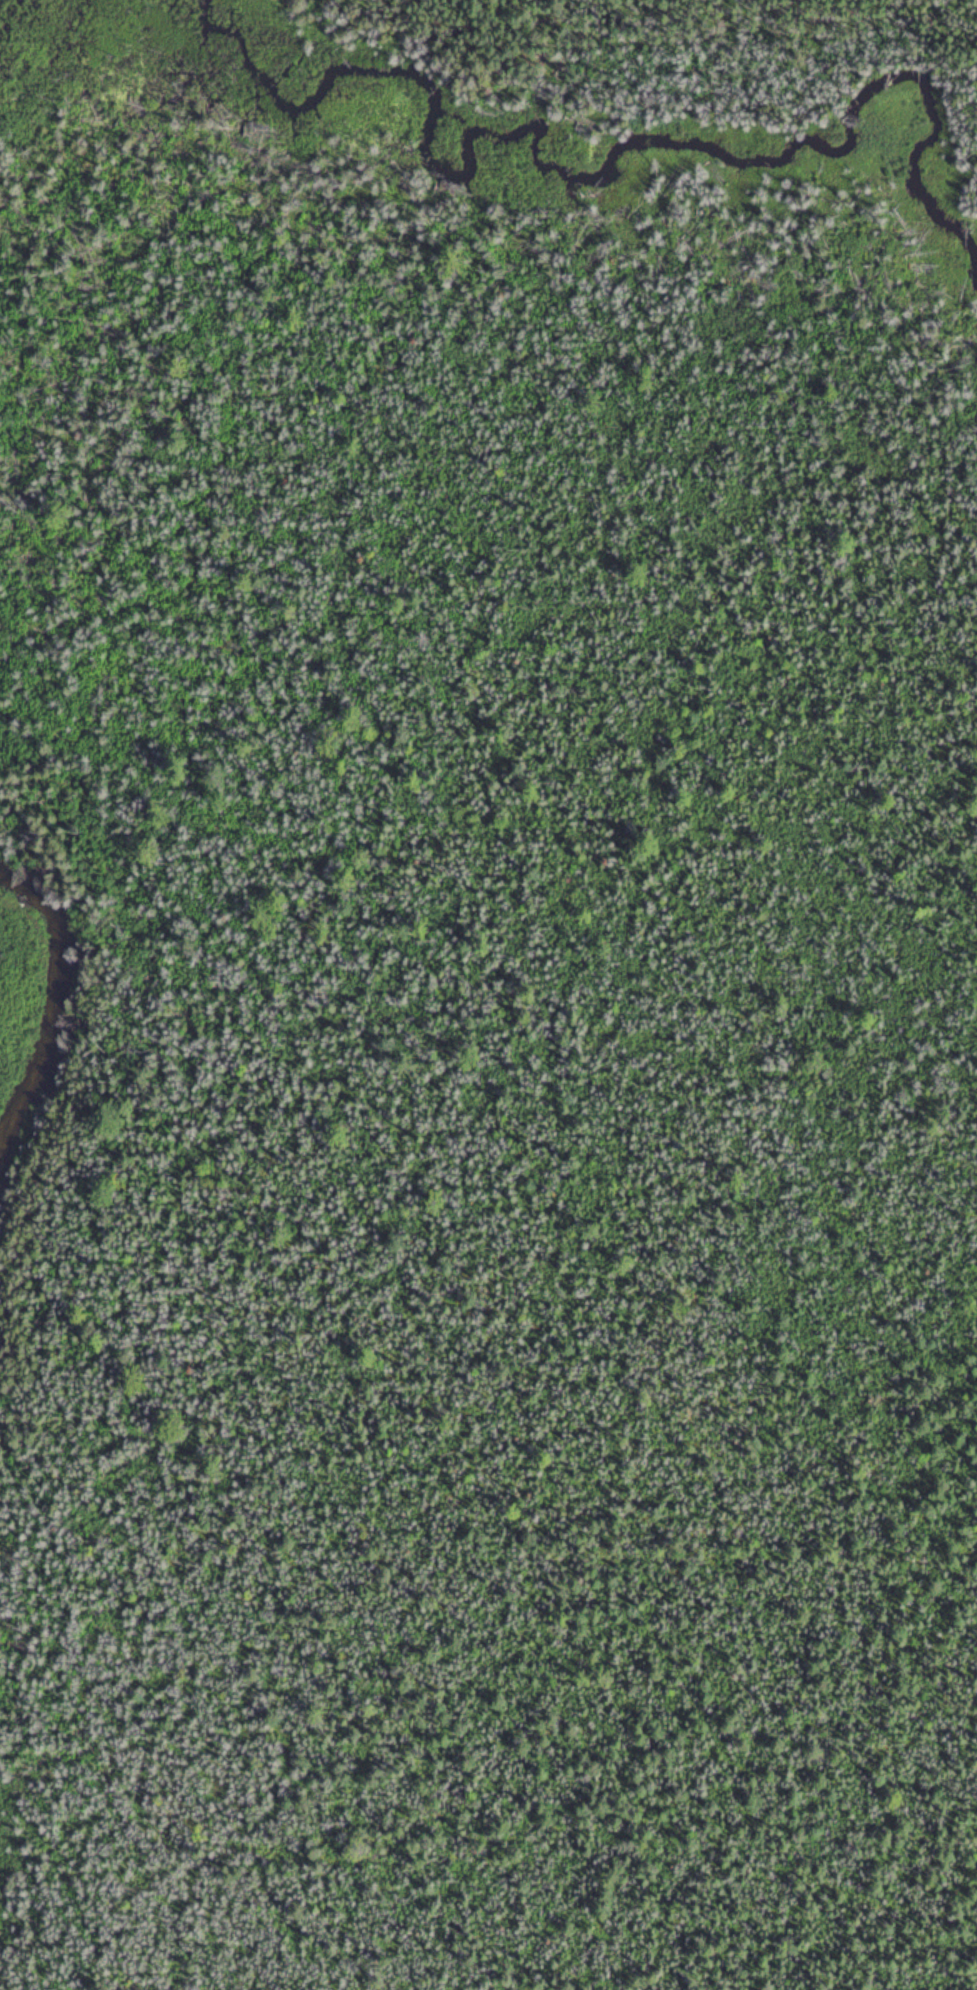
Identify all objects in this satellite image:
river: (55, 995)

